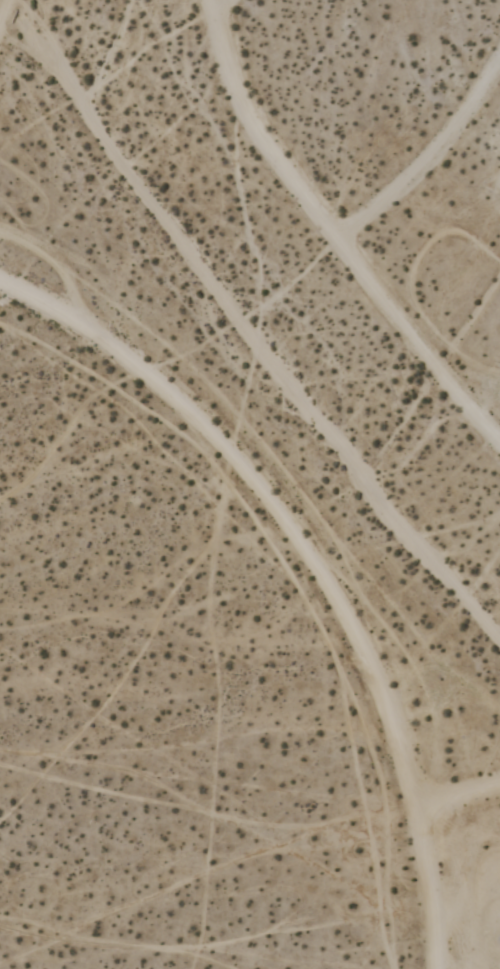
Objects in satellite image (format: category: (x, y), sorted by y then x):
road: (220, 2)
road: (7, 17)
road: (429, 164)
road: (332, 234)
crop: (301, 335)
road: (315, 563)
road: (460, 800)

